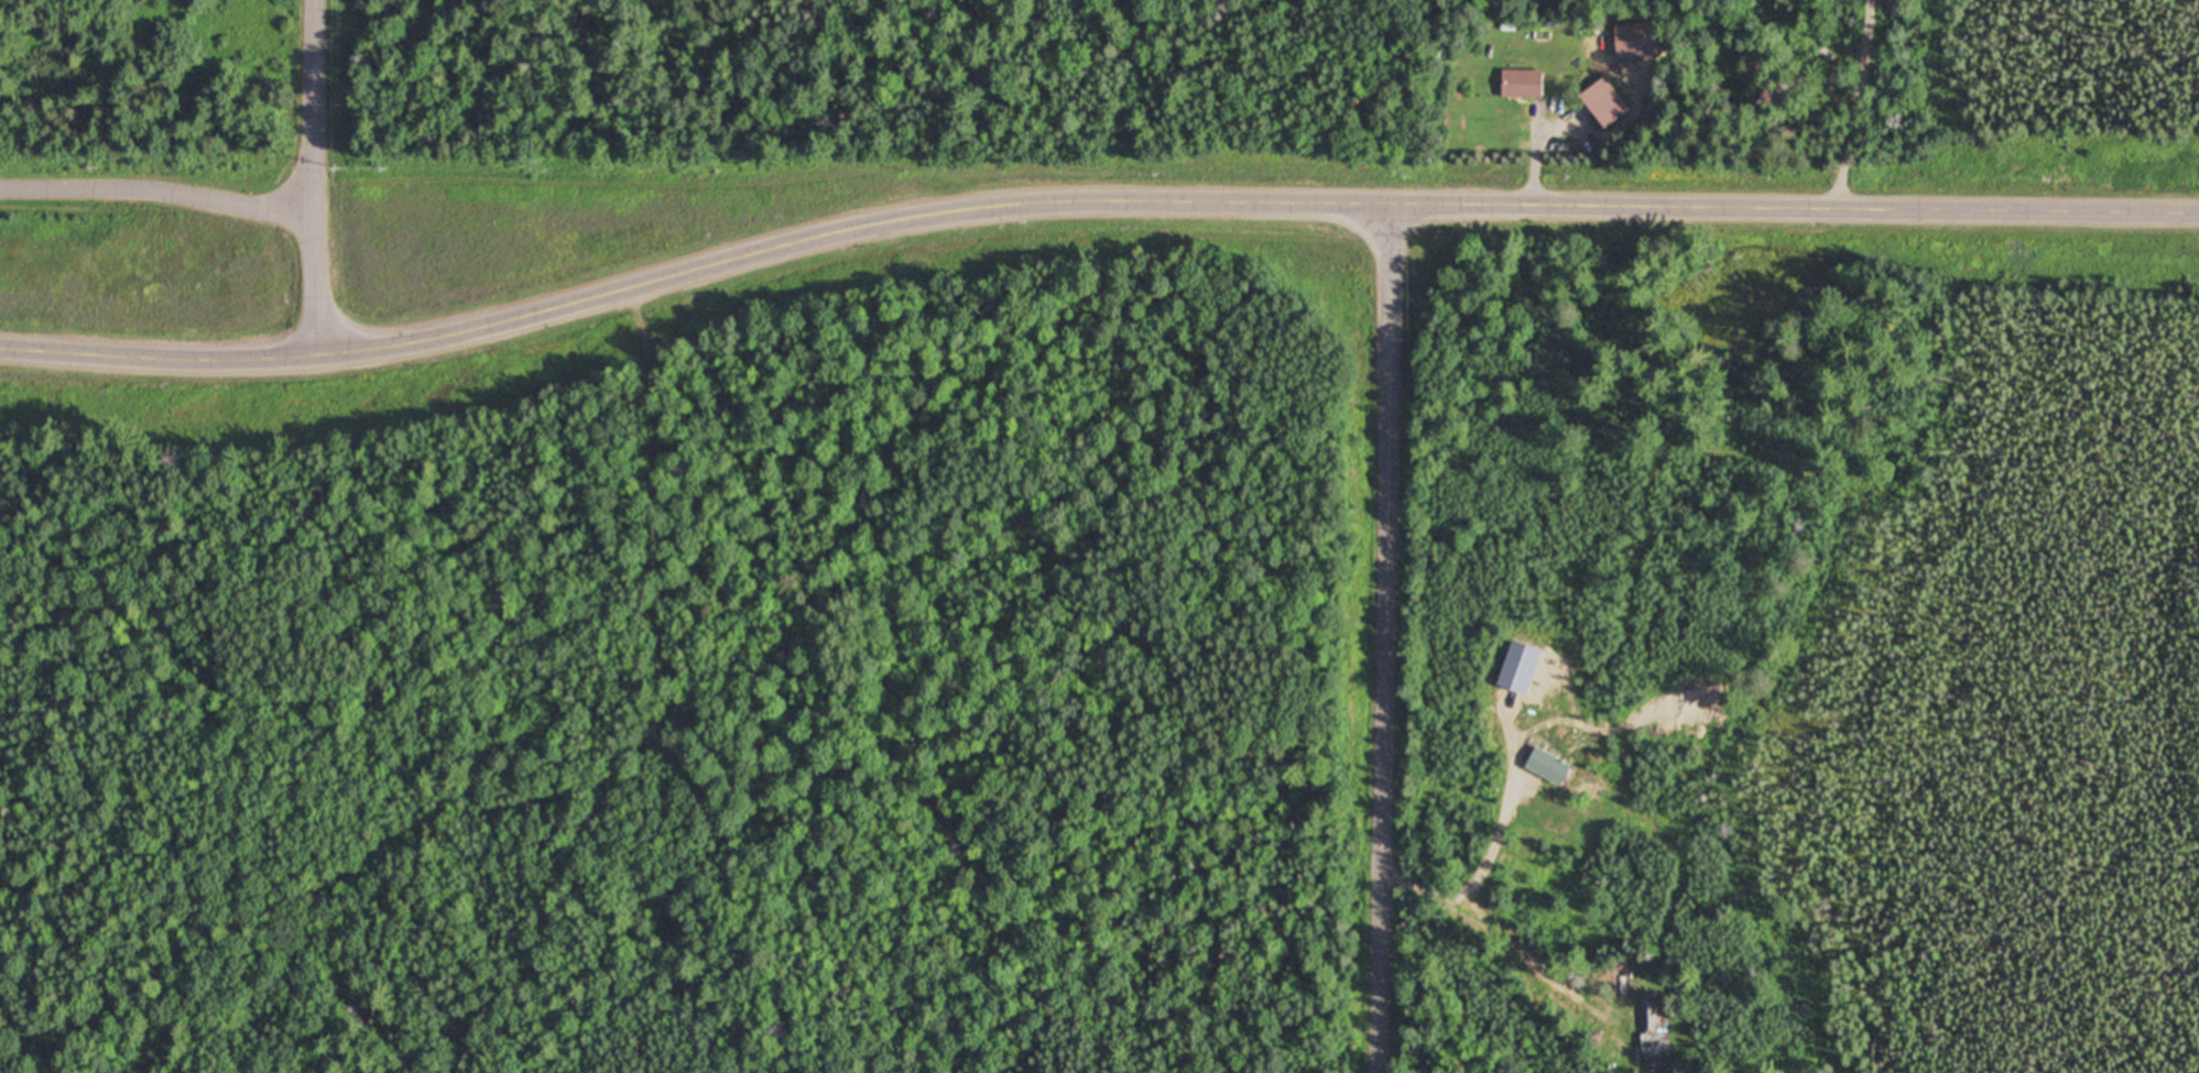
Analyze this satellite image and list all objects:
building: (1521, 84)
road: (314, 175)
road: (159, 188)
road: (1090, 195)
road: (1389, 634)
building: (1652, 1031)

